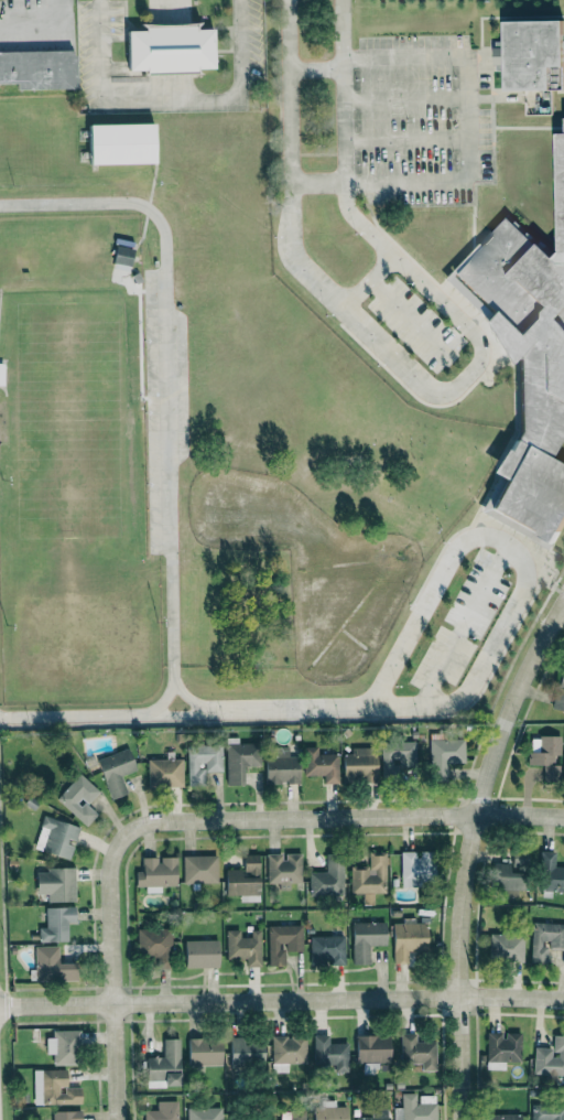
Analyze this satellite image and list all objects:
road: (41, 24)
building: (166, 49)
building: (527, 55)
road: (318, 67)
building: (37, 69)
road: (169, 100)
road: (468, 116)
building: (117, 143)
road: (317, 182)
building: (120, 255)
road: (370, 279)
road: (411, 313)
building: (528, 362)
building: (0, 374)
road: (447, 391)
road: (171, 472)
road: (525, 575)
road: (562, 612)
road: (463, 623)
building: (560, 692)
road: (252, 710)
building: (397, 754)
building: (546, 755)
building: (444, 756)
building: (240, 761)
building: (202, 763)
building: (360, 764)
building: (321, 765)
building: (282, 767)
building: (116, 771)
building: (164, 772)
building: (78, 798)
road: (263, 818)
building: (56, 837)
road: (464, 852)
building: (415, 868)
building: (199, 869)
building: (283, 869)
building: (156, 873)
building: (550, 873)
building: (328, 877)
building: (369, 877)
building: (508, 877)
building: (243, 880)
building: (56, 884)
building: (57, 925)
building: (366, 939)
building: (545, 939)
building: (408, 940)
building: (283, 943)
building: (155, 945)
building: (243, 947)
building: (506, 948)
building: (327, 950)
building: (200, 954)
building: (52, 966)
road: (282, 995)
building: (63, 1046)
building: (502, 1049)
building: (205, 1052)
building: (288, 1052)
building: (417, 1052)
building: (246, 1053)
building: (330, 1054)
road: (122, 1058)
building: (550, 1058)
building: (165, 1066)
building: (54, 1088)
building: (416, 1108)
building: (163, 1111)
building: (204, 1113)
building: (547, 1113)
building: (293, 1114)
building: (377, 1114)
building: (66, 1116)
building: (503, 1117)

